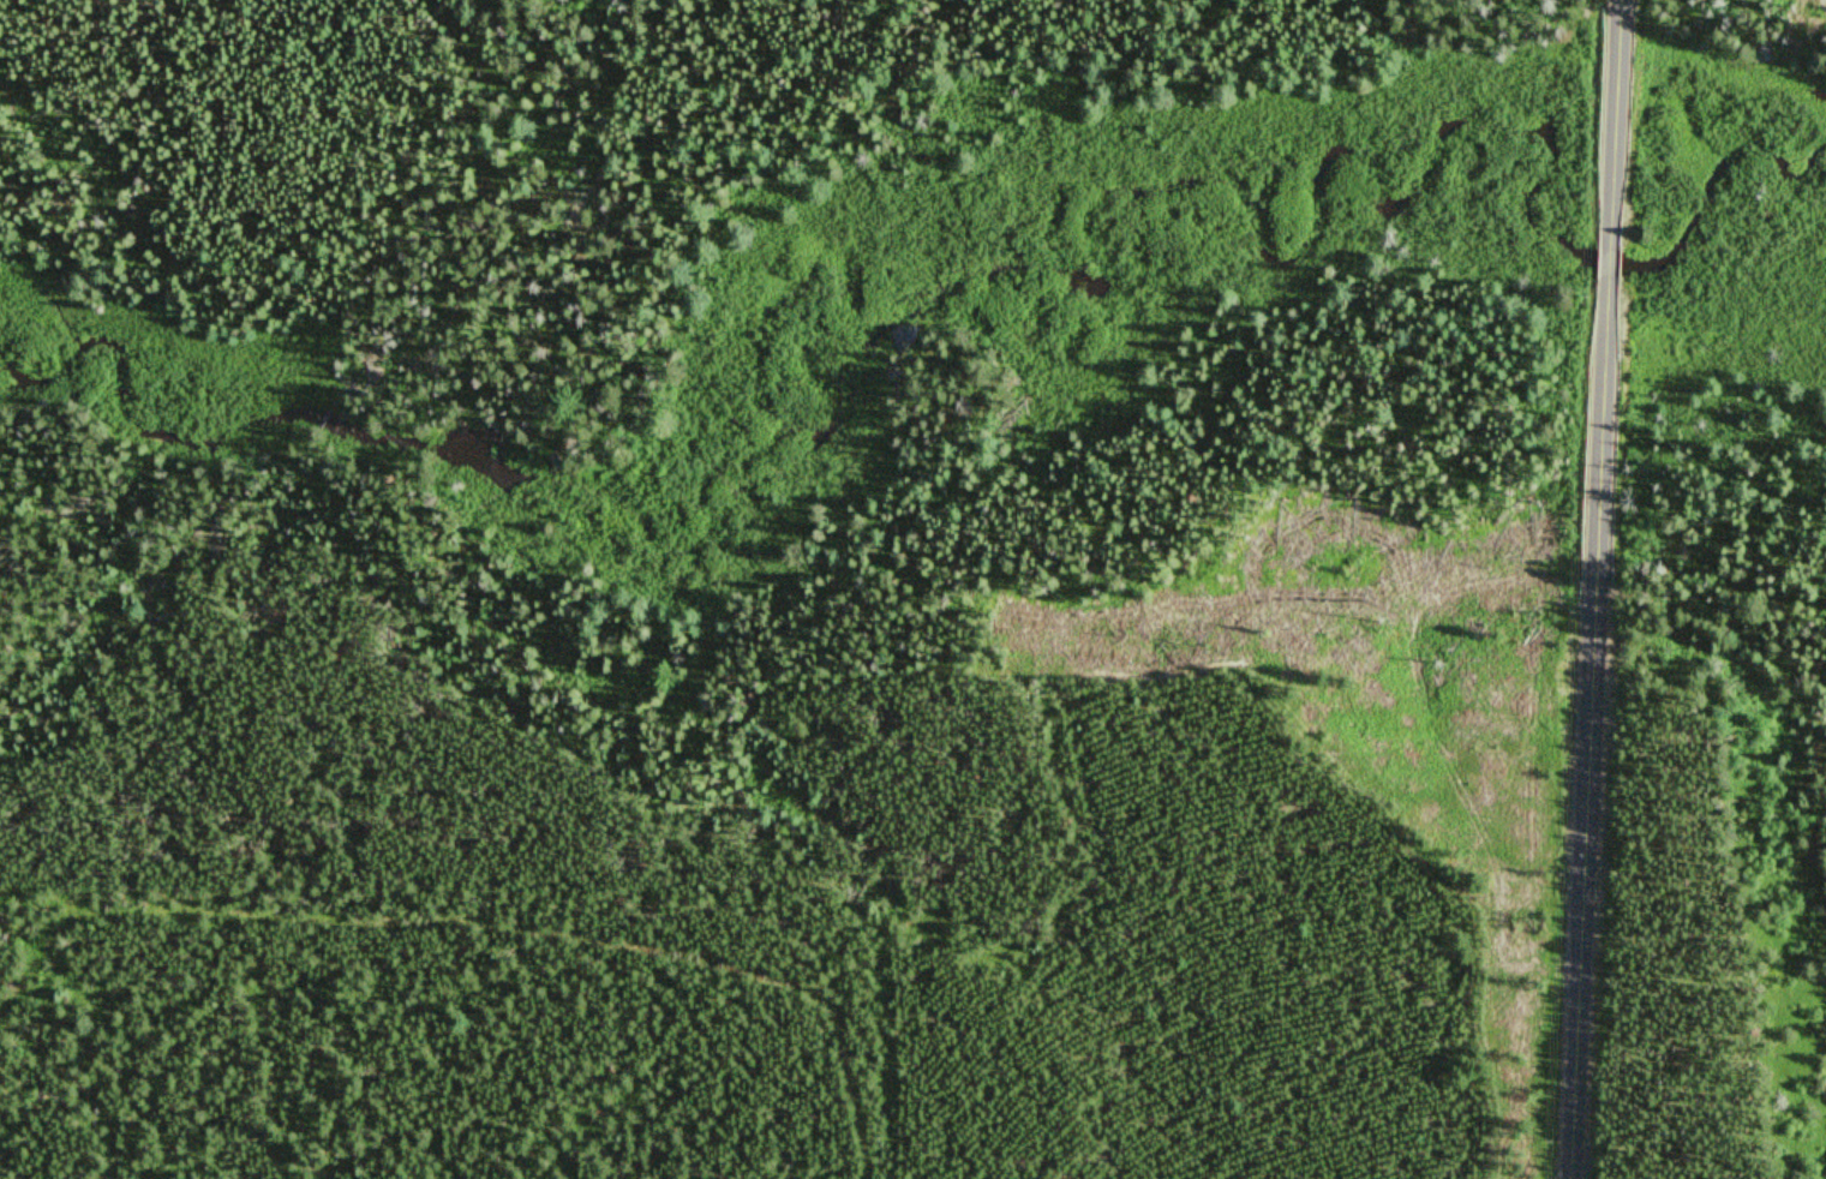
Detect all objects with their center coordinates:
river: (972, 328)
road: (1587, 588)

